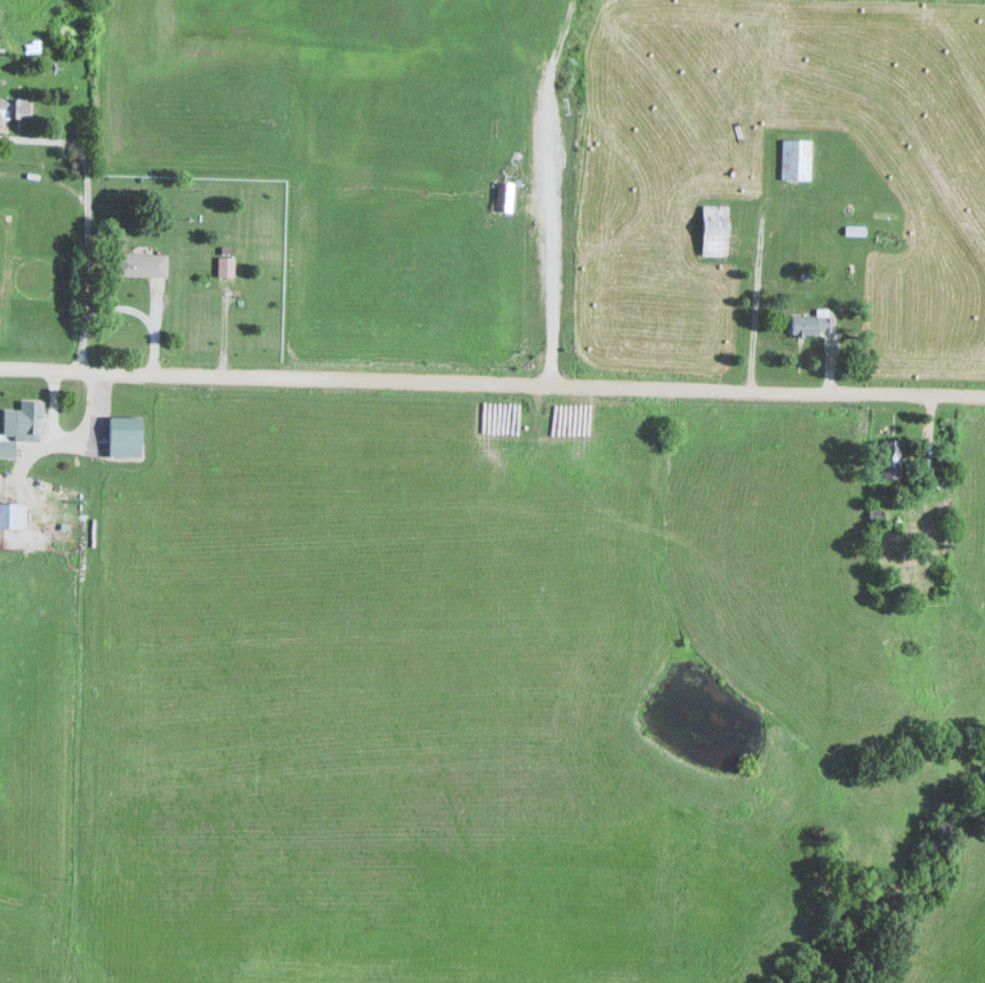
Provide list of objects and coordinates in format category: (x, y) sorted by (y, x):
building: (15, 107)
building: (795, 158)
building: (712, 229)
building: (854, 230)
road: (89, 243)
road: (545, 253)
building: (139, 264)
building: (224, 265)
road: (751, 303)
road: (140, 318)
building: (810, 324)
road: (492, 383)
building: (25, 421)
building: (5, 448)
building: (890, 458)
building: (918, 483)
building: (11, 515)

